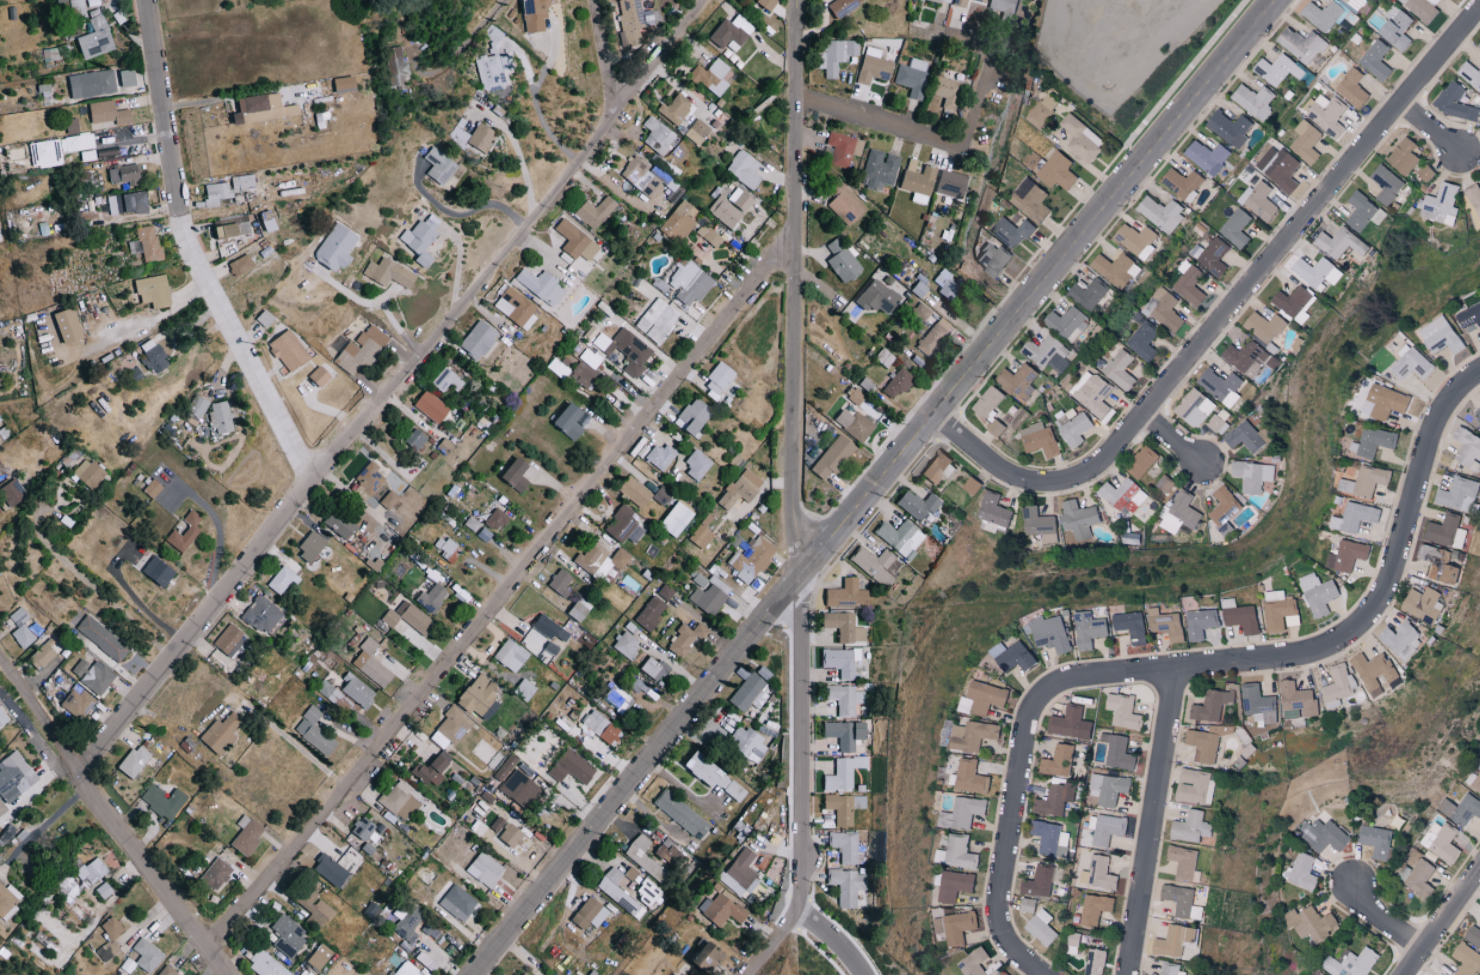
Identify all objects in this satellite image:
building: (940, 1)
building: (978, 1)
building: (1350, 1)
building: (92, 2)
building: (768, 2)
building: (959, 3)
building: (1002, 5)
building: (843, 6)
building: (78, 9)
building: (1422, 9)
building: (535, 15)
building: (1323, 16)
building: (631, 22)
building: (1394, 29)
building: (732, 30)
building: (97, 36)
building: (1300, 44)
building: (1479, 45)
building: (62, 51)
road: (605, 52)
building: (50, 54)
building: (836, 55)
building: (1374, 61)
building: (874, 66)
building: (492, 70)
building: (1278, 70)
building: (1470, 75)
building: (712, 76)
building: (913, 76)
building: (128, 77)
building: (92, 83)
building: (1349, 87)
building: (44, 88)
building: (948, 91)
road: (533, 95)
building: (1253, 102)
building: (1455, 102)
building: (255, 103)
building: (676, 108)
building: (1044, 110)
building: (109, 112)
building: (1327, 116)
building: (73, 125)
building: (1229, 128)
road: (1434, 130)
building: (698, 131)
road: (926, 132)
building: (659, 134)
building: (482, 136)
building: (1084, 138)
building: (1305, 141)
building: (77, 142)
building: (844, 148)
building: (46, 151)
building: (110, 152)
building: (88, 154)
building: (1403, 156)
building: (1210, 157)
road: (519, 160)
building: (439, 165)
building: (745, 168)
building: (881, 168)
building: (1281, 168)
building: (1060, 171)
building: (126, 173)
building: (1424, 173)
building: (644, 174)
building: (919, 181)
building: (952, 183)
building: (1184, 183)
building: (1386, 184)
building: (227, 188)
building: (1473, 198)
building: (740, 199)
building: (1033, 200)
building: (1262, 201)
building: (128, 203)
building: (845, 204)
building: (1440, 204)
building: (596, 211)
building: (725, 211)
road: (460, 213)
building: (1365, 213)
building: (1164, 214)
building: (680, 220)
building: (233, 226)
building: (1239, 227)
building: (1013, 232)
building: (709, 234)
building: (577, 240)
building: (1138, 240)
building: (420, 241)
building: (147, 243)
building: (1341, 243)
building: (337, 246)
road: (186, 251)
road: (459, 254)
building: (1217, 257)
building: (994, 258)
building: (843, 260)
building: (241, 265)
building: (1118, 270)
building: (389, 272)
building: (1318, 273)
building: (691, 282)
building: (947, 283)
building: (1192, 284)
building: (542, 285)
road: (794, 287)
building: (155, 290)
building: (1090, 294)
building: (879, 297)
road: (374, 300)
building: (1295, 303)
building: (517, 307)
building: (1169, 310)
road: (1229, 310)
building: (1469, 317)
building: (265, 318)
building: (657, 320)
building: (1068, 324)
building: (69, 325)
road: (131, 326)
building: (1266, 327)
building: (934, 336)
building: (1440, 336)
building: (479, 338)
building: (1146, 341)
building: (627, 349)
building: (289, 350)
building: (361, 350)
building: (1049, 354)
building: (155, 355)
building: (1244, 355)
building: (1413, 363)
building: (586, 368)
building: (1124, 369)
building: (320, 375)
building: (447, 380)
road: (389, 381)
building: (721, 381)
building: (1021, 382)
building: (898, 383)
building: (1223, 386)
building: (1102, 395)
building: (857, 396)
building: (991, 402)
building: (1388, 402)
building: (1004, 406)
building: (199, 407)
building: (432, 407)
building: (1195, 407)
building: (1478, 414)
building: (694, 416)
building: (221, 417)
building: (570, 421)
building: (855, 424)
building: (1219, 424)
building: (1078, 425)
building: (998, 428)
building: (1246, 437)
building: (416, 438)
building: (1, 439)
building: (1042, 439)
road: (1172, 441)
building: (1377, 442)
building: (1467, 449)
building: (661, 456)
building: (834, 456)
building: (1145, 462)
building: (698, 464)
building: (939, 466)
building: (89, 473)
building: (517, 475)
building: (1254, 475)
building: (371, 480)
building: (1369, 481)
building: (1169, 484)
building: (974, 485)
road: (874, 486)
building: (153, 487)
building: (742, 488)
building: (636, 491)
building: (13, 492)
building: (1458, 494)
building: (663, 495)
building: (1125, 496)
building: (389, 499)
building: (919, 504)
building: (1226, 506)
building: (996, 510)
building: (1183, 514)
building: (1359, 517)
building: (498, 519)
building: (677, 519)
building: (1081, 519)
building: (709, 521)
building: (342, 523)
building: (472, 523)
building: (622, 524)
building: (1041, 525)
road: (223, 527)
building: (1442, 530)
building: (186, 532)
building: (697, 536)
building: (902, 536)
building: (446, 545)
building: (313, 546)
building: (1350, 555)
building: (592, 558)
building: (621, 558)
building: (753, 560)
building: (1438, 563)
building: (877, 564)
building: (159, 570)
building: (283, 579)
building: (562, 582)
road: (89, 583)
road: (503, 584)
road: (1388, 586)
building: (666, 591)
building: (848, 593)
building: (1322, 594)
building: (433, 597)
building: (708, 599)
road: (137, 601)
building: (1423, 604)
building: (579, 611)
building: (1284, 612)
building: (651, 613)
building: (263, 614)
building: (1244, 616)
building: (415, 617)
building: (391, 618)
building: (1205, 623)
building: (1134, 624)
building: (1171, 624)
building: (846, 626)
building: (630, 627)
building: (21, 628)
building: (551, 628)
building: (1092, 630)
building: (1054, 634)
building: (103, 638)
building: (230, 639)
building: (685, 639)
building: (1401, 640)
building: (627, 644)
building: (551, 648)
building: (43, 655)
building: (512, 655)
building: (1021, 658)
building: (842, 661)
building: (373, 663)
building: (654, 669)
road: (1127, 671)
building: (1377, 673)
building: (93, 676)
building: (1341, 686)
building: (751, 688)
building: (525, 689)
building: (358, 690)
building: (481, 695)
building: (618, 697)
building: (846, 698)
building: (986, 699)
building: (77, 701)
building: (1300, 701)
building: (1260, 704)
building: (1214, 705)
building: (1127, 712)
building: (2, 720)
building: (1073, 724)
building: (602, 726)
building: (451, 727)
building: (316, 731)
building: (222, 733)
building: (847, 733)
building: (977, 735)
road: (287, 739)
building: (747, 741)
road: (799, 741)
building: (1209, 742)
building: (1121, 752)
building: (494, 760)
building: (135, 761)
building: (1060, 761)
building: (505, 767)
building: (572, 767)
building: (434, 769)
building: (844, 772)
building: (15, 776)
building: (717, 777)
building: (974, 777)
building: (1474, 781)
road: (681, 786)
building: (1198, 786)
building: (522, 789)
building: (1110, 789)
building: (164, 801)
building: (400, 801)
building: (1053, 802)
building: (845, 807)
building: (1460, 809)
building: (968, 813)
building: (683, 814)
road: (117, 817)
road: (1010, 820)
road: (1150, 821)
road: (49, 824)
building: (364, 828)
building: (1195, 828)
building: (1107, 829)
building: (510, 833)
building: (248, 835)
building: (1325, 835)
building: (1053, 840)
building: (1378, 840)
building: (1440, 842)
building: (845, 845)
building: (669, 852)
building: (961, 853)
building: (644, 857)
building: (1186, 862)
building: (743, 867)
building: (485, 869)
building: (92, 870)
building: (331, 870)
building: (1303, 871)
building: (217, 874)
building: (1102, 874)
building: (1417, 878)
building: (1041, 882)
building: (960, 886)
building: (849, 887)
building: (105, 889)
building: (648, 891)
building: (619, 892)
building: (8, 901)
building: (458, 902)
building: (1185, 902)
building: (1030, 906)
building: (316, 908)
building: (1098, 909)
building: (724, 910)
building: (372, 911)
building: (591, 913)
road: (1384, 918)
road: (1441, 921)
building: (1313, 923)
building: (407, 924)
building: (959, 927)
building: (427, 928)
building: (1044, 928)
building: (288, 935)
building: (1473, 936)
building: (110, 938)
building: (1075, 939)
road: (828, 940)
building: (1179, 940)
road: (769, 942)
building: (148, 955)
building: (320, 956)
building: (712, 957)
building: (1466, 960)
building: (1098, 962)
building: (1356, 963)
building: (265, 965)
building: (975, 965)
building: (1171, 968)
building: (407, 970)
building: (168, 971)
building: (526, 973)
building: (1002, 974)

